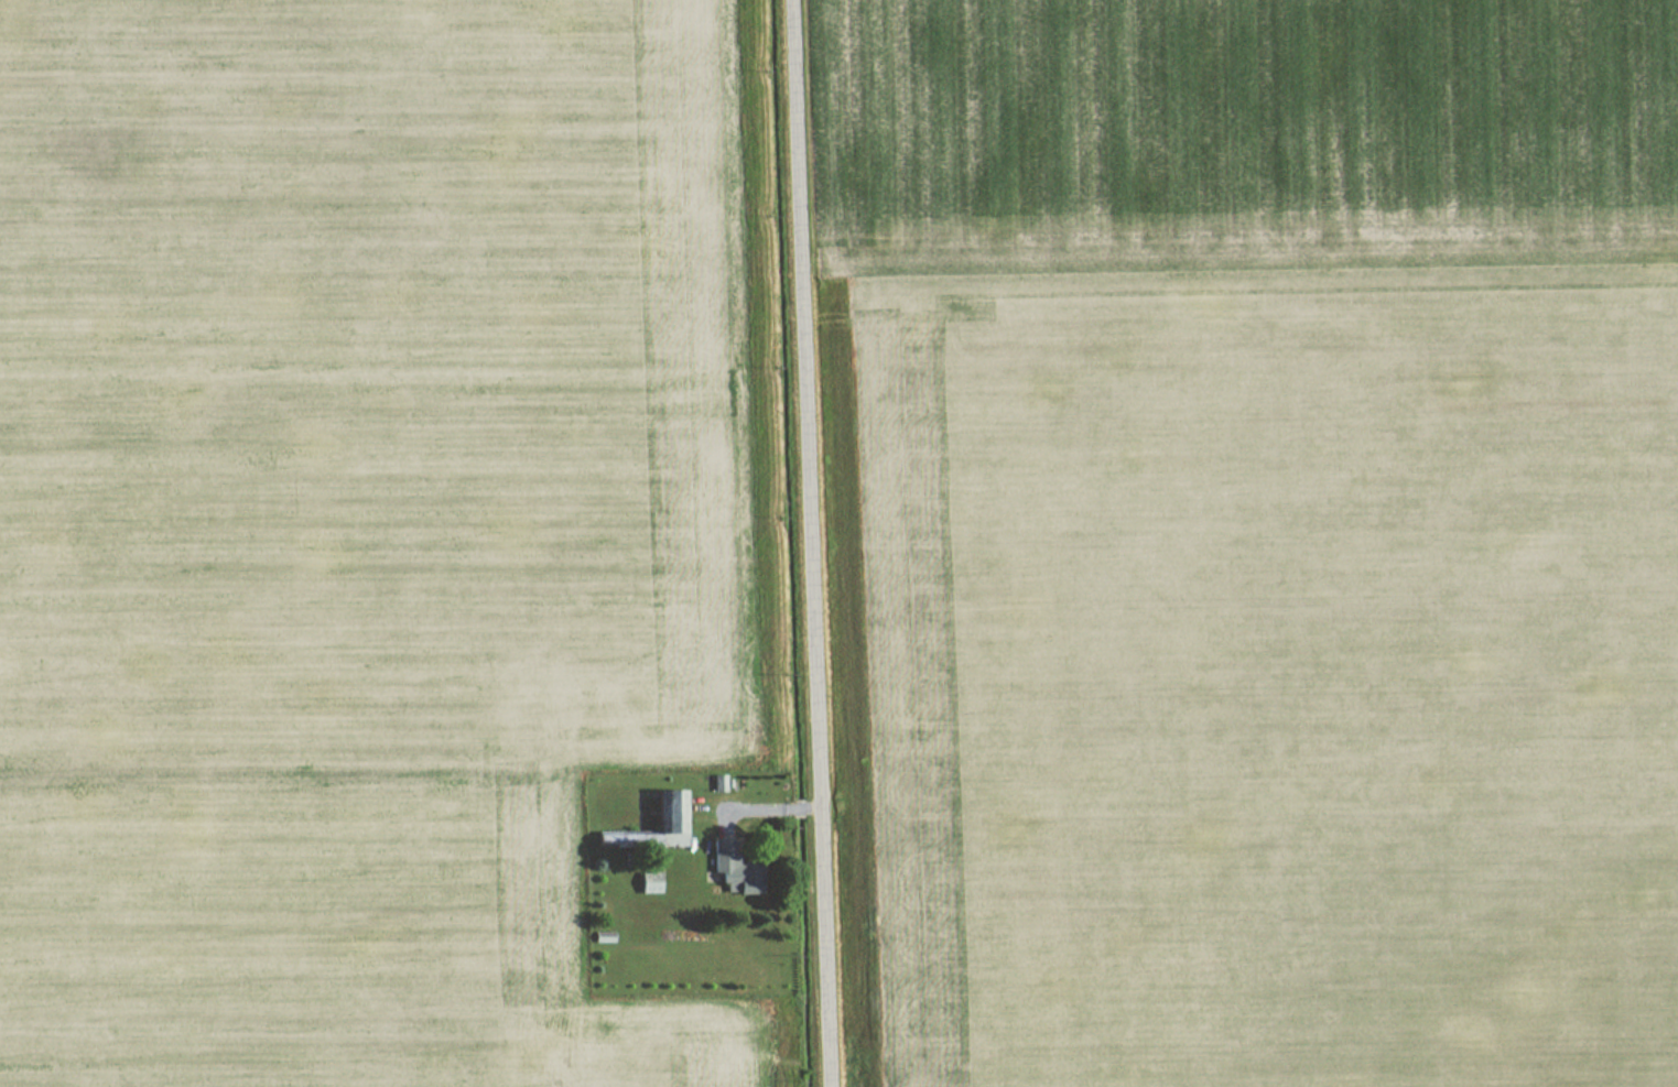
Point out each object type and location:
crop: (360, 529)
crop: (1266, 537)
road: (815, 543)
building: (733, 870)

